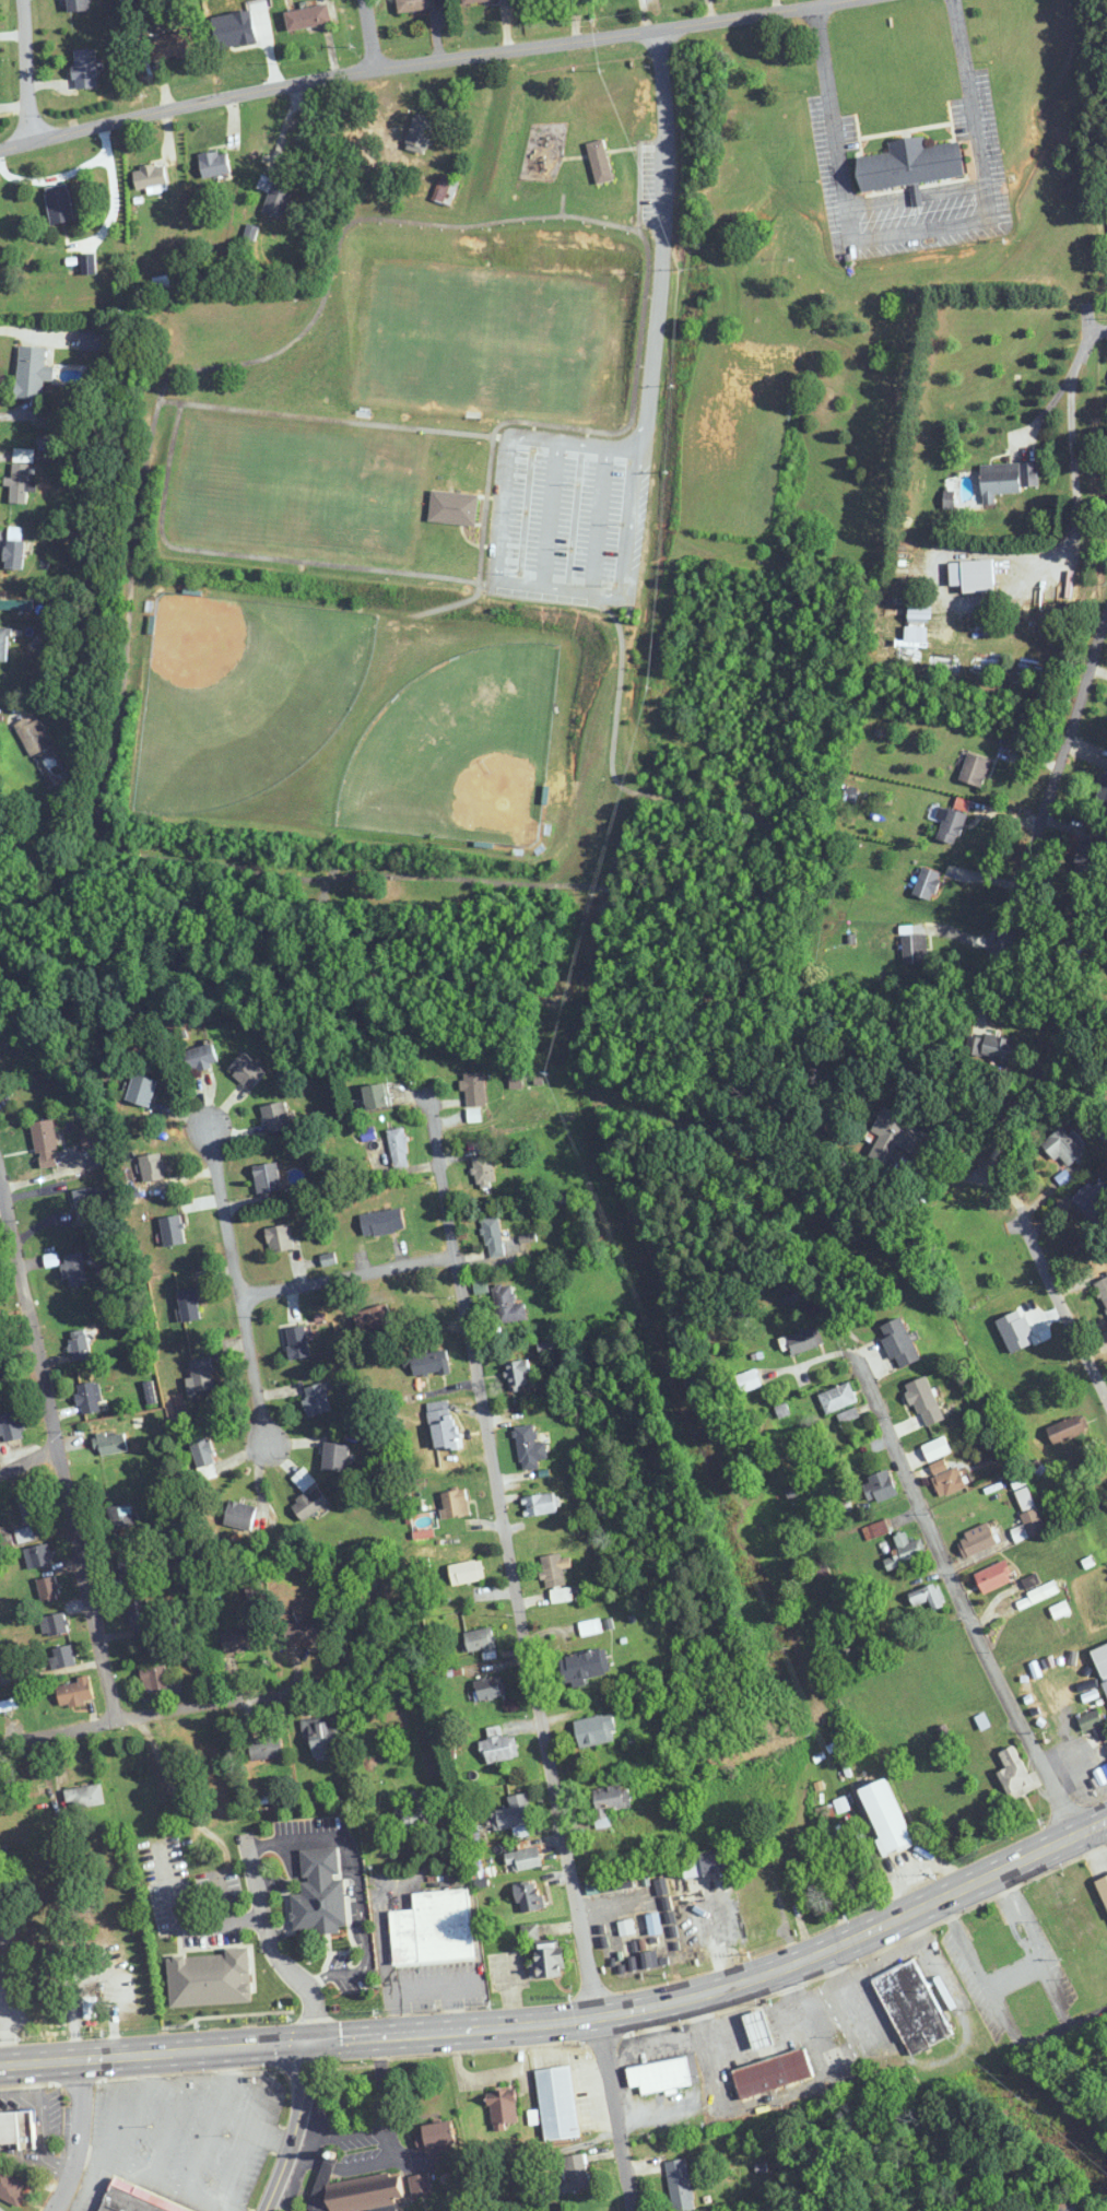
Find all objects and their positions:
building: (483, 0)
building: (76, 5)
building: (416, 5)
building: (308, 17)
road: (368, 35)
building: (170, 46)
road: (419, 63)
building: (84, 69)
road: (26, 71)
road: (971, 105)
road: (834, 119)
building: (419, 134)
building: (600, 162)
building: (214, 164)
building: (914, 166)
building: (150, 177)
building: (446, 190)
building: (275, 196)
building: (59, 204)
road: (920, 234)
road: (1104, 331)
building: (91, 339)
park: (473, 342)
building: (33, 372)
road: (1064, 379)
building: (20, 475)
building: (1006, 479)
road: (1075, 492)
building: (456, 510)
road: (549, 514)
road: (633, 516)
road: (484, 520)
road: (597, 520)
building: (14, 554)
building: (973, 575)
road: (485, 585)
park: (456, 597)
road: (448, 603)
building: (15, 604)
building: (920, 609)
building: (3, 644)
park: (243, 696)
building: (1, 716)
building: (34, 736)
park: (458, 750)
building: (975, 771)
road: (1055, 784)
building: (952, 825)
road: (132, 857)
building: (928, 882)
building: (914, 948)
road: (988, 980)
building: (991, 1047)
building: (0, 1057)
building: (201, 1057)
building: (247, 1070)
building: (474, 1089)
building: (141, 1090)
building: (376, 1095)
building: (275, 1118)
building: (896, 1136)
building: (92, 1137)
building: (46, 1143)
building: (1063, 1146)
building: (399, 1148)
building: (153, 1167)
building: (484, 1171)
road: (967, 1176)
building: (267, 1178)
road: (3, 1190)
building: (1094, 1201)
building: (86, 1206)
building: (382, 1222)
building: (172, 1230)
building: (493, 1237)
building: (280, 1238)
road: (10, 1258)
building: (74, 1268)
road: (345, 1277)
road: (236, 1285)
building: (1103, 1289)
road: (1062, 1303)
building: (189, 1304)
building: (507, 1304)
building: (375, 1318)
building: (0, 1326)
building: (804, 1340)
building: (298, 1341)
building: (899, 1342)
building: (79, 1344)
building: (431, 1363)
building: (202, 1374)
building: (519, 1374)
building: (5, 1376)
building: (749, 1379)
building: (90, 1398)
building: (317, 1398)
building: (837, 1398)
building: (848, 1415)
building: (921, 1420)
building: (441, 1425)
building: (11, 1426)
building: (1067, 1430)
road: (58, 1439)
building: (111, 1443)
building: (529, 1447)
building: (201, 1449)
road: (28, 1453)
building: (335, 1456)
building: (946, 1478)
building: (303, 1479)
building: (880, 1486)
building: (455, 1503)
building: (309, 1504)
building: (540, 1504)
building: (33, 1507)
building: (240, 1515)
building: (121, 1516)
building: (1033, 1521)
building: (875, 1530)
building: (976, 1541)
building: (906, 1551)
road: (509, 1552)
building: (38, 1555)
road: (942, 1555)
building: (132, 1571)
building: (552, 1571)
building: (467, 1572)
building: (994, 1576)
building: (48, 1588)
building: (561, 1596)
building: (926, 1599)
building: (140, 1618)
building: (54, 1624)
building: (590, 1627)
building: (306, 1631)
building: (240, 1640)
building: (481, 1640)
building: (62, 1657)
building: (1102, 1660)
building: (584, 1666)
building: (155, 1679)
building: (488, 1687)
building: (75, 1692)
building: (9, 1705)
road: (172, 1714)
building: (1091, 1719)
building: (596, 1730)
building: (1103, 1733)
building: (322, 1738)
building: (500, 1745)
building: (266, 1748)
road: (1074, 1761)
building: (1016, 1775)
building: (84, 1797)
building: (608, 1802)
building: (35, 1812)
building: (514, 1813)
building: (412, 1815)
building: (886, 1816)
road: (294, 1839)
building: (523, 1859)
building: (706, 1862)
building: (1103, 1887)
building: (320, 1892)
building: (529, 1896)
road: (611, 1900)
building: (52, 1907)
road: (186, 1926)
building: (433, 1929)
road: (364, 1930)
building: (530, 1932)
road: (718, 1937)
road: (275, 1947)
building: (1001, 1947)
building: (547, 1962)
building: (177, 1979)
building: (134, 1984)
building: (912, 2008)
road: (572, 2019)
building: (758, 2030)
traffic signals: (309, 2041)
road: (231, 2062)
building: (773, 2074)
building: (660, 2077)
road: (251, 2080)
road: (114, 2094)
building: (557, 2104)
building: (503, 2107)
road: (617, 2113)
road: (175, 2116)
road: (380, 2121)
road: (294, 2127)
building: (17, 2129)
road: (78, 2137)
road: (270, 2137)
building: (437, 2140)
building: (522, 2172)
building: (574, 2174)
road: (151, 2177)
building: (420, 2185)
building: (680, 2185)
building: (11, 2188)
building: (355, 2191)
building: (133, 2200)
building: (1063, 2207)

